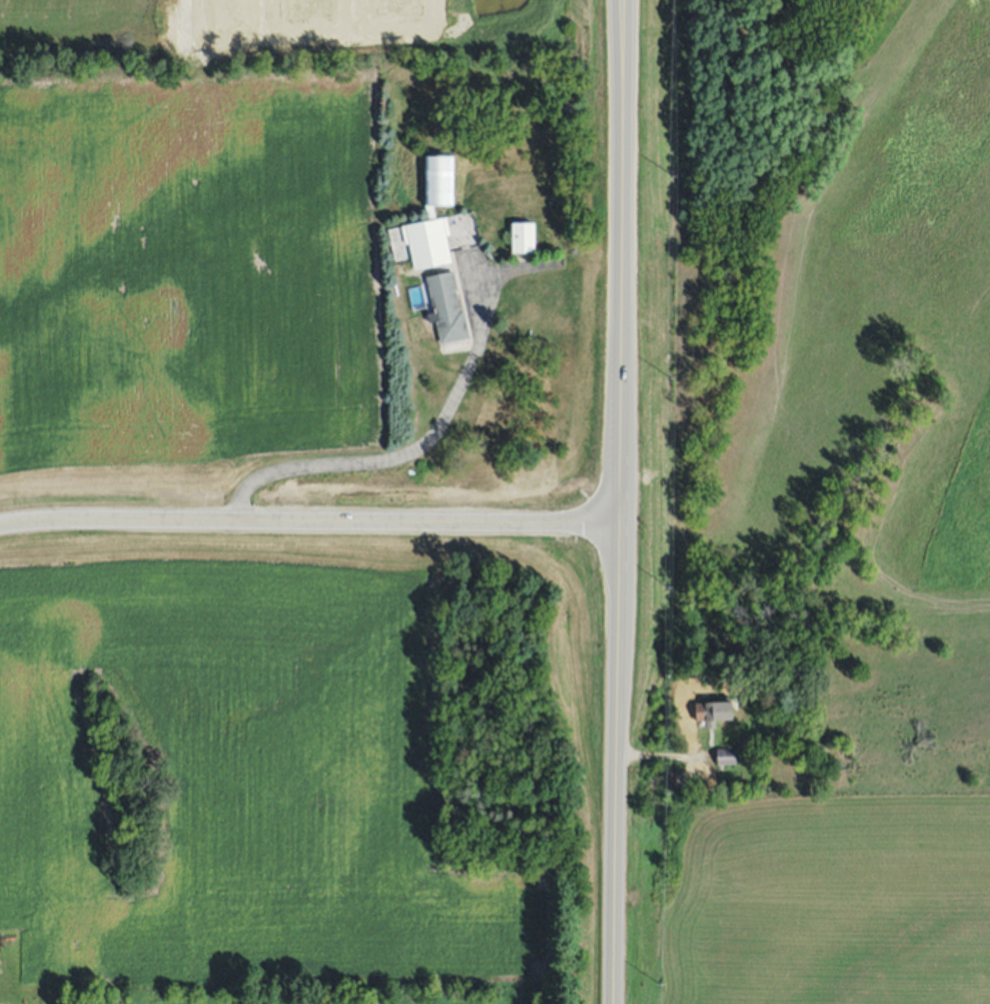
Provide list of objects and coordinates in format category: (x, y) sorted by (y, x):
building: (432, 215)
building: (523, 237)
building: (446, 307)
road: (357, 456)
road: (620, 502)
road: (309, 519)
building: (709, 711)
building: (725, 756)

